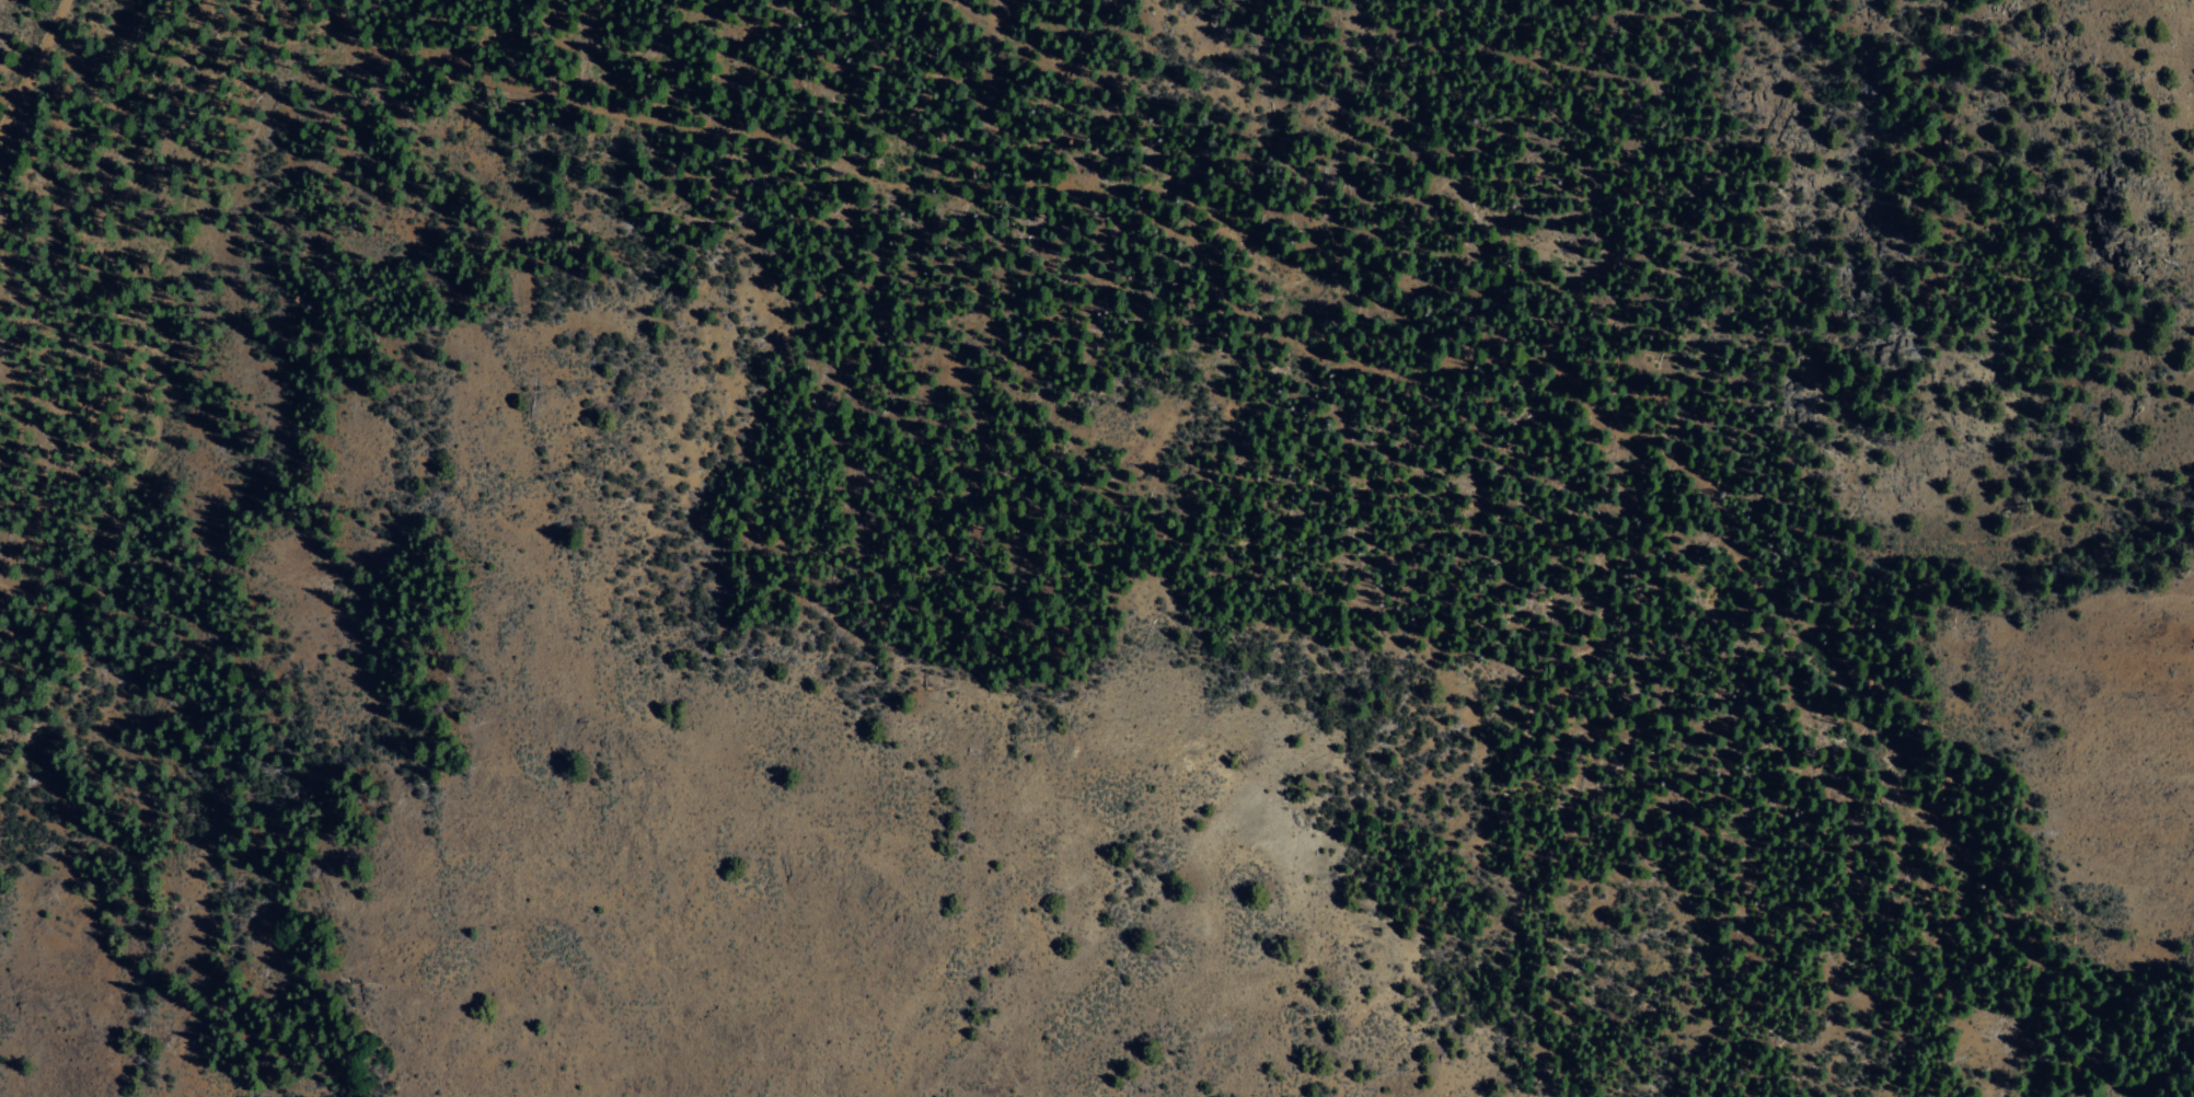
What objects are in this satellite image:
road: (33, 62)

